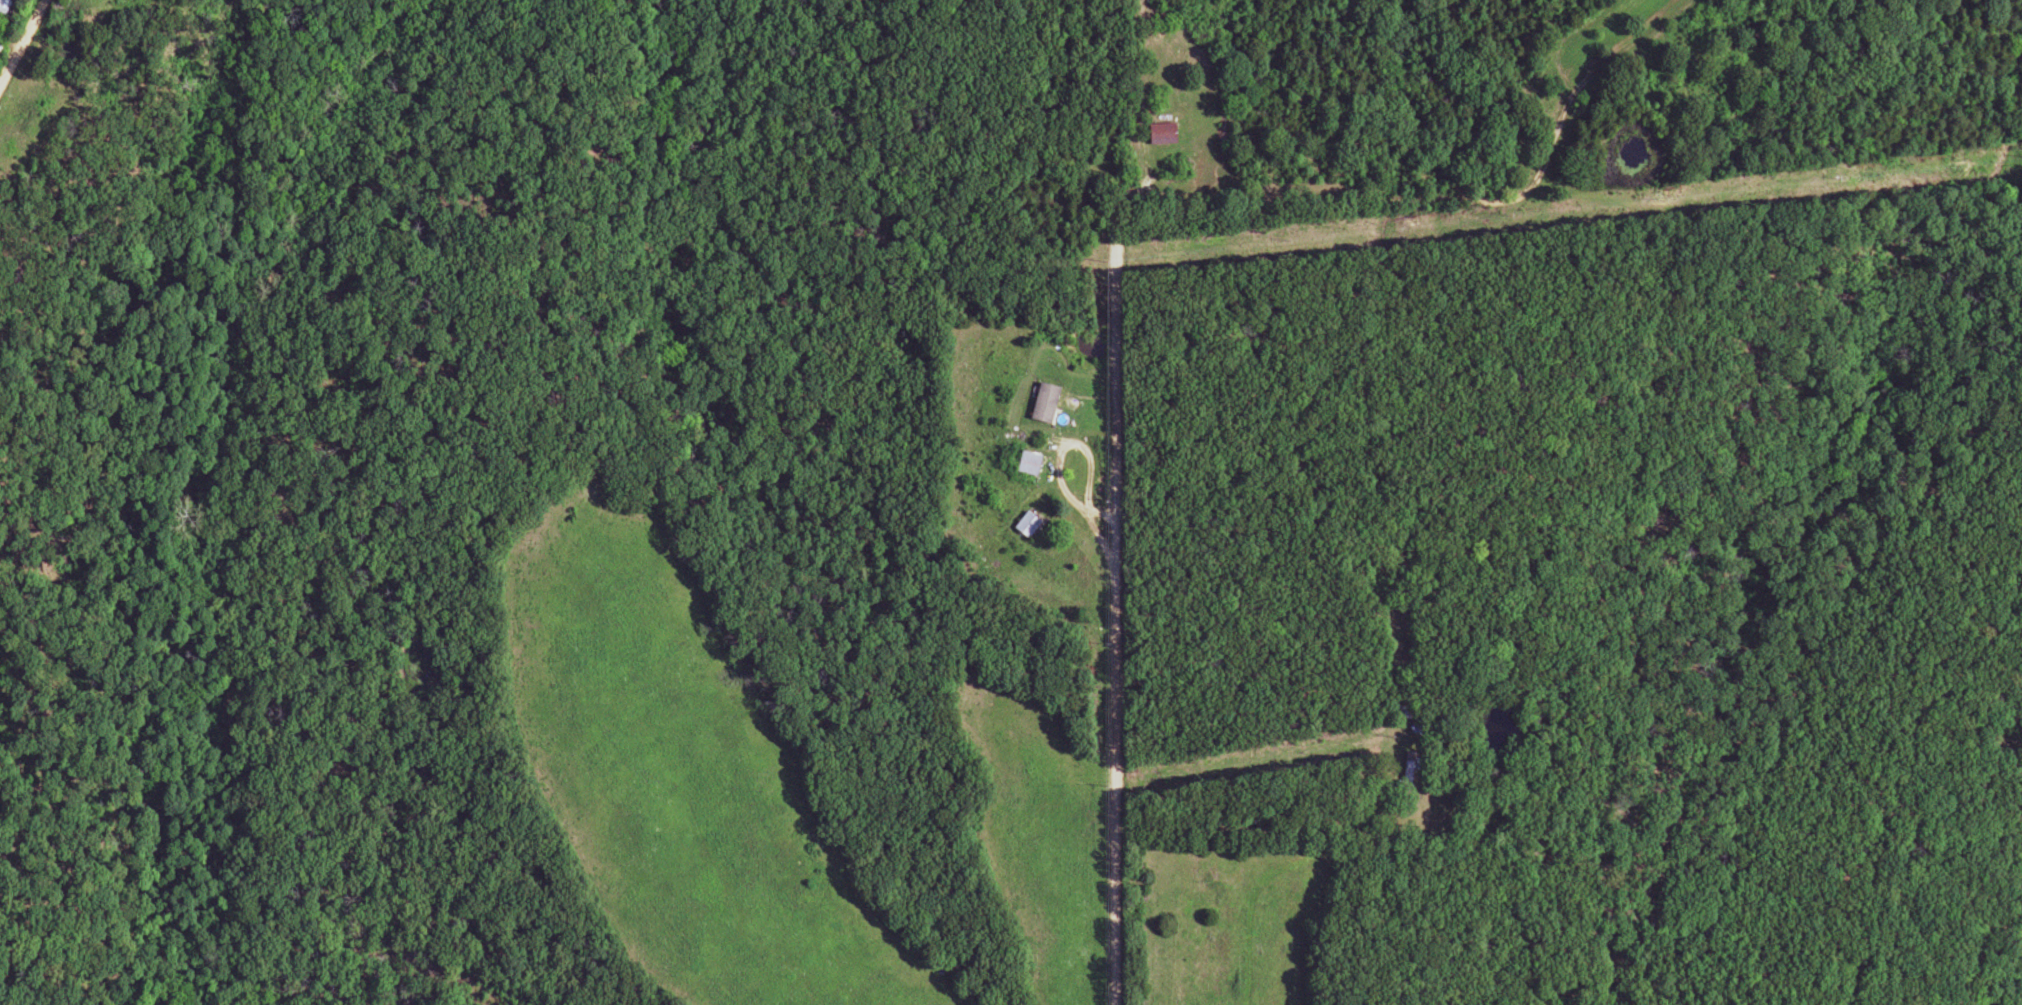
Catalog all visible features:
building: (4, 7)
road: (22, 39)
building: (1159, 133)
building: (1041, 404)
building: (1025, 464)
building: (1023, 525)
road: (1113, 642)
building: (1399, 712)
building: (1406, 768)

